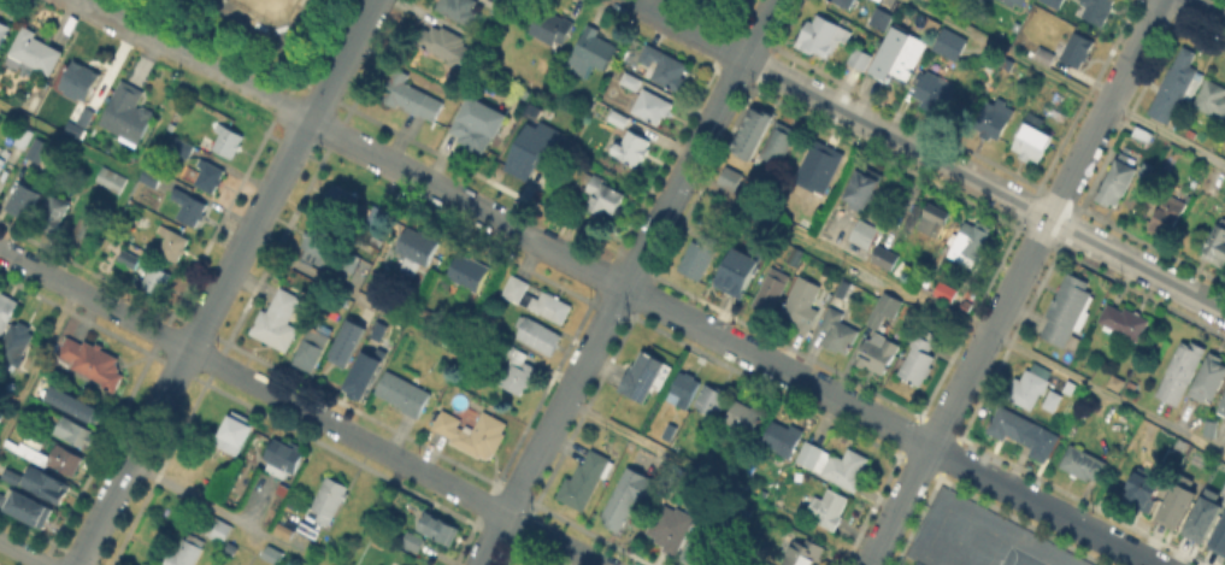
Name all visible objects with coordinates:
building: (726, 0)
building: (1015, 1)
building: (846, 2)
park: (266, 7)
building: (501, 8)
building: (1085, 8)
building: (459, 10)
road: (1206, 10)
building: (882, 18)
park: (263, 24)
building: (495, 24)
building: (932, 25)
building: (550, 27)
building: (4, 30)
building: (823, 35)
building: (949, 43)
building: (453, 46)
building: (1078, 49)
building: (33, 52)
building: (591, 52)
building: (899, 54)
building: (860, 57)
building: (1046, 57)
road: (200, 58)
building: (666, 66)
building: (631, 80)
building: (79, 81)
road: (1068, 81)
building: (1174, 86)
building: (934, 90)
building: (411, 96)
building: (1212, 98)
building: (653, 106)
building: (128, 113)
building: (87, 117)
building: (619, 118)
building: (995, 118)
building: (479, 124)
building: (748, 131)
building: (1144, 134)
building: (24, 137)
road: (66, 140)
building: (229, 140)
building: (1033, 140)
building: (781, 141)
road: (358, 145)
building: (182, 147)
building: (632, 147)
building: (40, 149)
road: (929, 154)
building: (524, 158)
building: (2, 164)
building: (815, 165)
road: (135, 172)
building: (152, 176)
building: (211, 176)
building: (725, 176)
building: (111, 178)
building: (1118, 179)
building: (864, 187)
building: (756, 190)
building: (602, 194)
building: (25, 200)
building: (337, 200)
road: (466, 200)
building: (190, 207)
building: (53, 213)
building: (1170, 213)
building: (377, 214)
building: (934, 219)
building: (87, 230)
building: (865, 234)
building: (318, 240)
building: (172, 242)
building: (971, 243)
building: (418, 245)
building: (1217, 246)
building: (701, 252)
building: (796, 255)
building: (129, 258)
road: (575, 258)
building: (885, 259)
building: (354, 260)
road: (37, 269)
building: (740, 270)
building: (469, 272)
road: (223, 281)
building: (154, 282)
road: (625, 282)
road: (1014, 282)
building: (772, 289)
road: (491, 293)
building: (946, 293)
road: (352, 298)
building: (538, 300)
building: (802, 302)
building: (885, 308)
building: (6, 310)
building: (1068, 310)
road: (954, 313)
building: (278, 320)
building: (1125, 323)
building: (838, 330)
building: (538, 334)
building: (348, 343)
building: (14, 347)
building: (312, 349)
building: (877, 353)
road: (37, 358)
building: (919, 358)
building: (93, 361)
building: (517, 367)
building: (1180, 372)
building: (643, 376)
building: (1209, 378)
building: (361, 379)
building: (1115, 382)
building: (1030, 386)
building: (1071, 387)
building: (685, 388)
building: (402, 394)
road: (6, 399)
building: (712, 400)
building: (1053, 400)
building: (75, 404)
building: (1223, 407)
building: (744, 416)
road: (889, 425)
road: (336, 426)
building: (1015, 426)
building: (1211, 426)
building: (73, 431)
building: (670, 432)
building: (229, 434)
building: (475, 434)
building: (783, 437)
building: (284, 457)
building: (53, 458)
building: (835, 464)
building: (1084, 464)
building: (11, 476)
building: (584, 479)
road: (714, 482)
building: (45, 484)
building: (1144, 489)
building: (2, 499)
building: (330, 499)
building: (625, 502)
building: (1173, 504)
building: (829, 507)
building: (24, 508)
road: (225, 513)
building: (1201, 516)
building: (671, 528)
building: (219, 529)
building: (440, 529)
building: (1218, 536)
road: (962, 540)
building: (413, 541)
building: (699, 542)
road: (22, 553)
building: (187, 553)
building: (803, 553)
building: (273, 554)
park: (1018, 557)
building: (524, 564)
building: (529, 564)
building: (911, 564)

